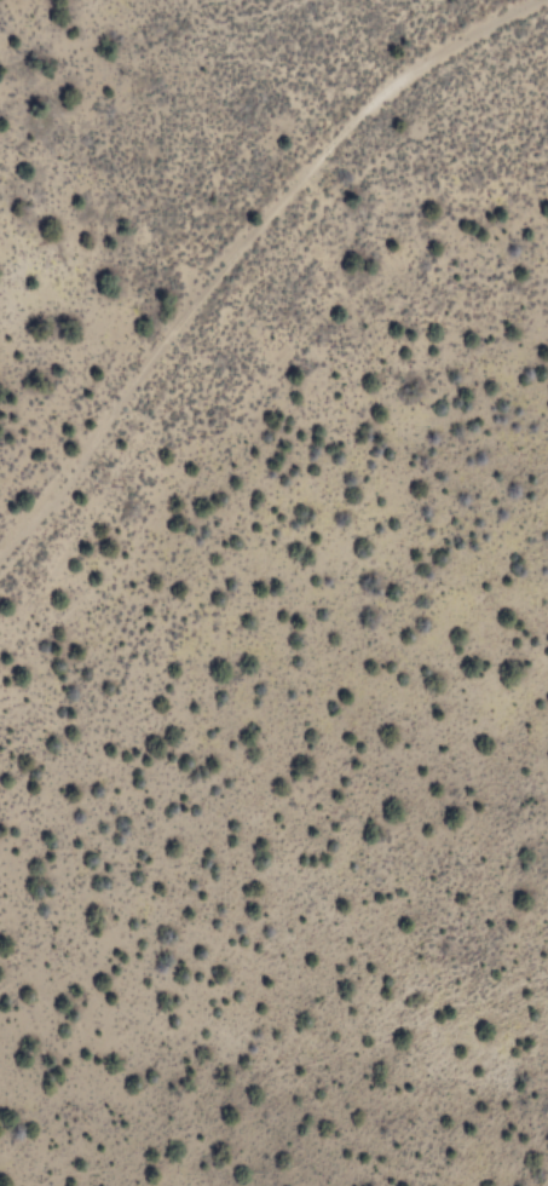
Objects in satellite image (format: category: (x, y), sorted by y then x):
road: (266, 349)

